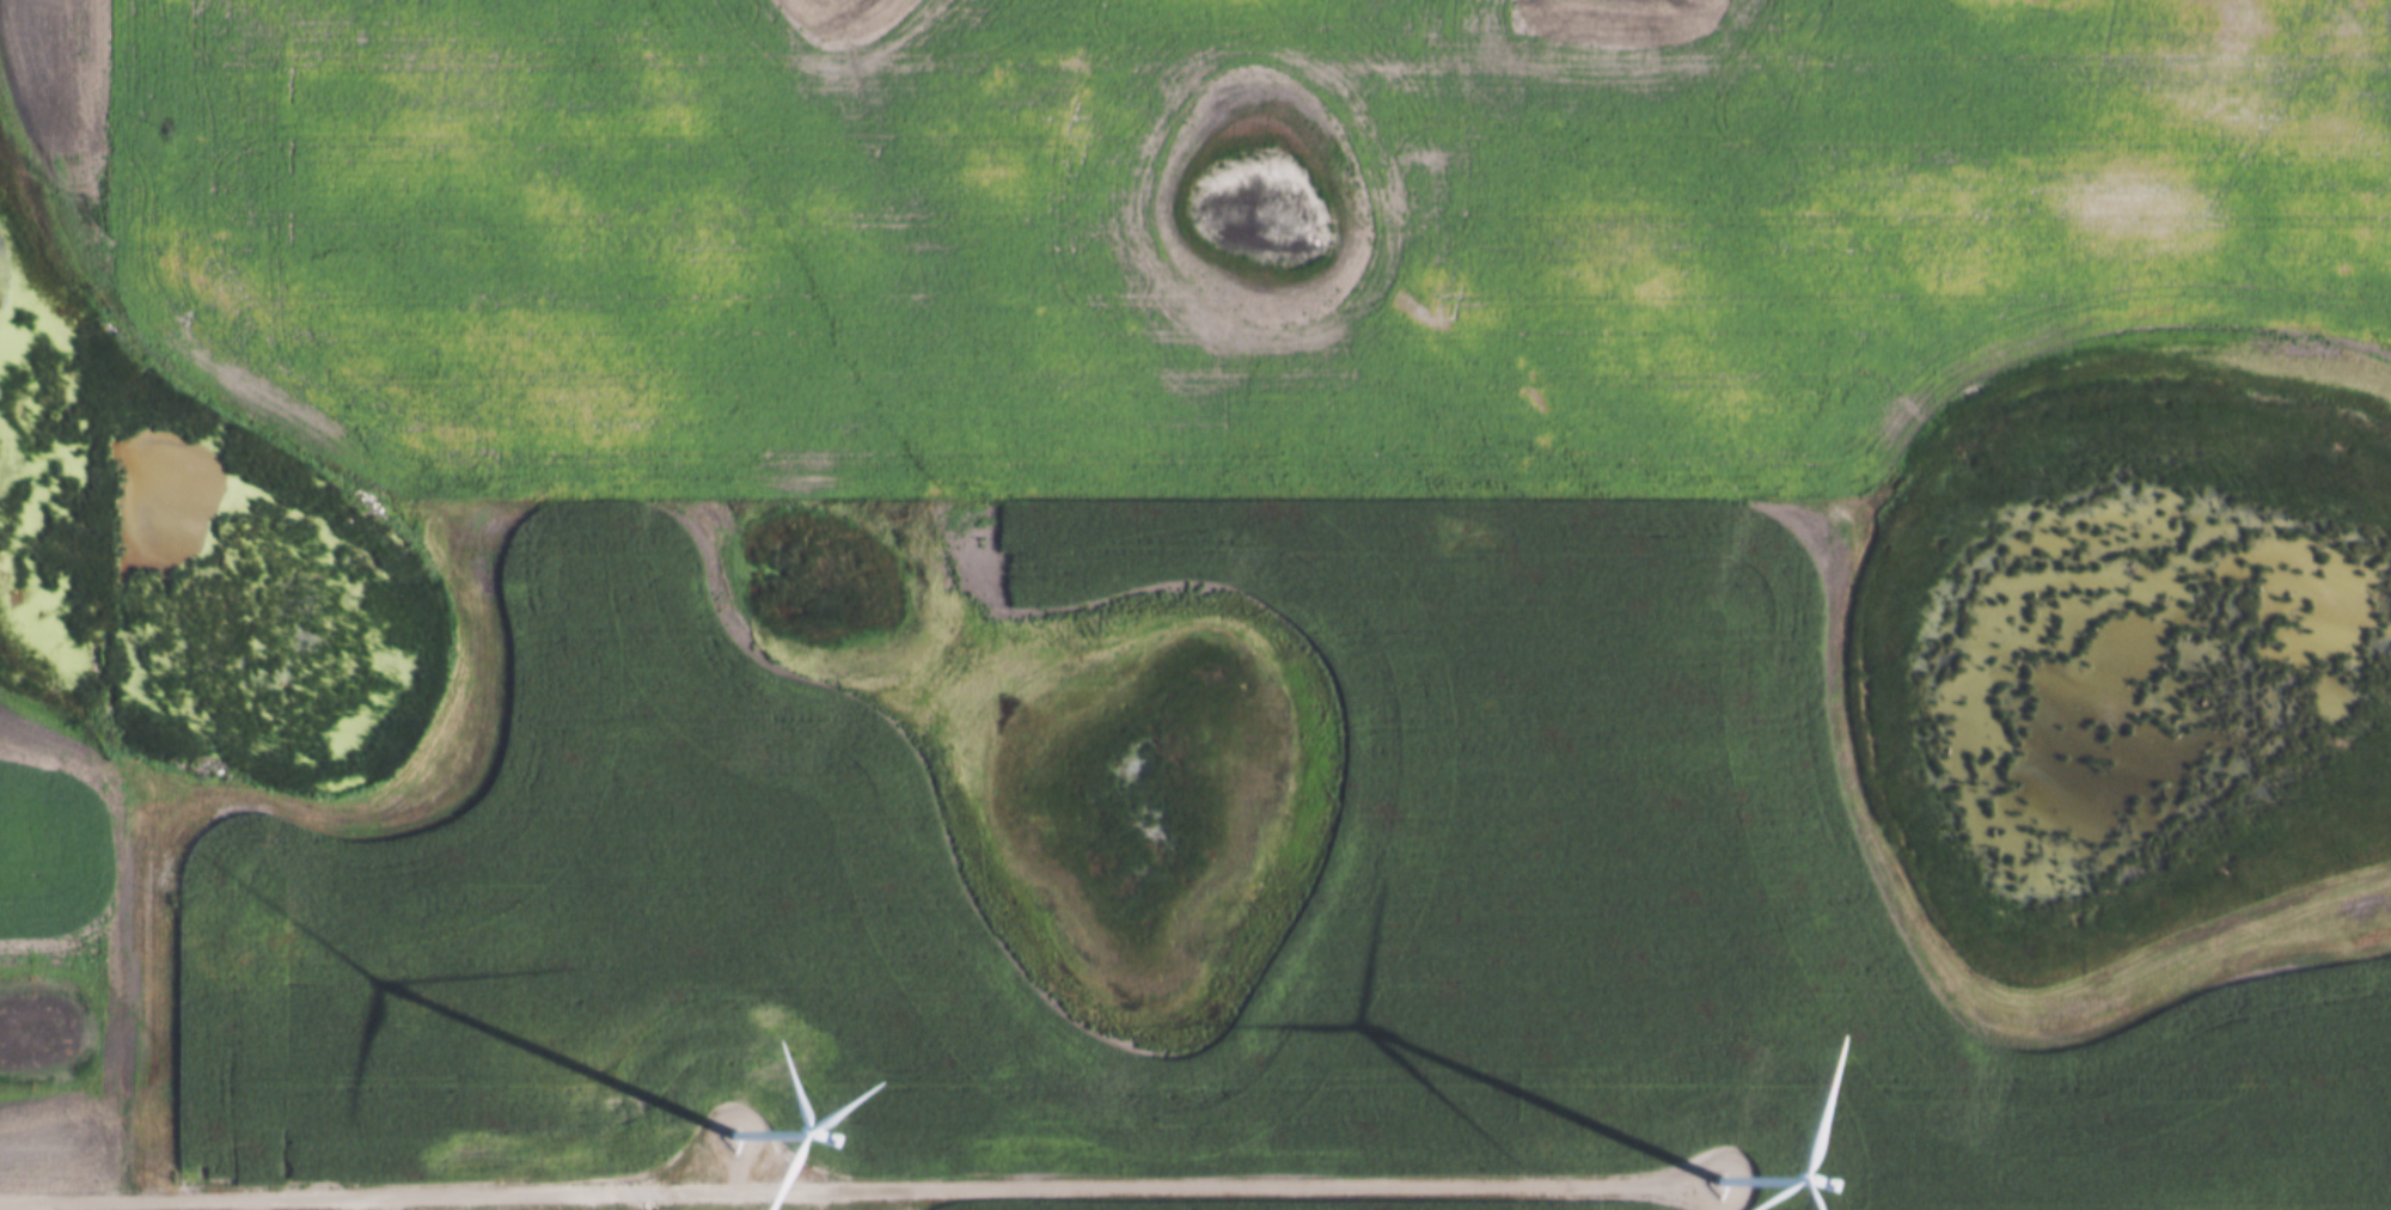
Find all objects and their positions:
wind turbine: (741, 1127)
wind turbine: (1722, 1175)

